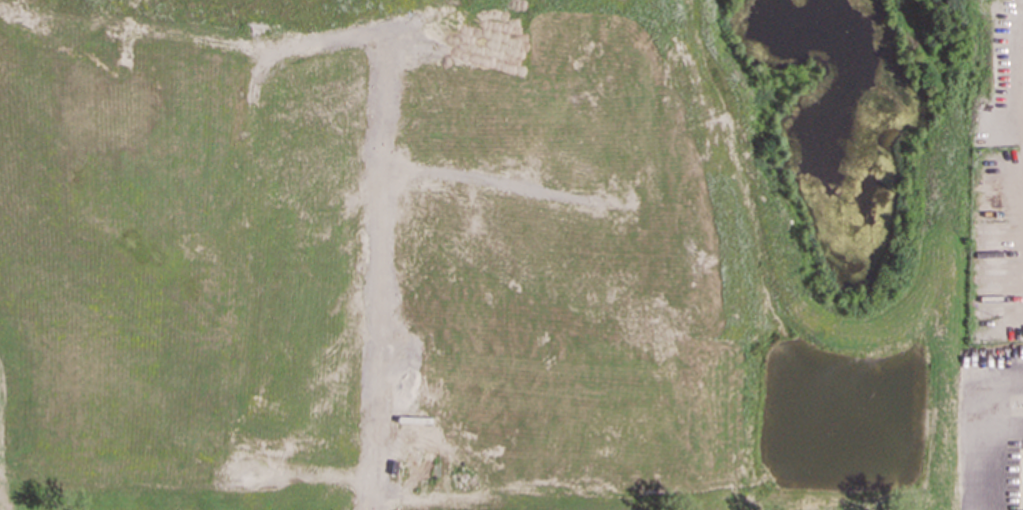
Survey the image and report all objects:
road: (377, 342)
road: (974, 452)

